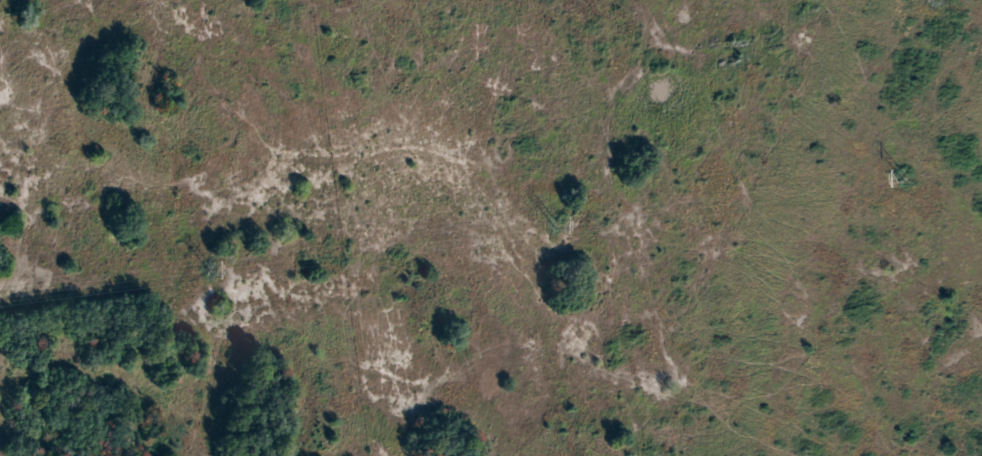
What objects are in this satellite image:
power tower: (905, 179)
power tower: (555, 224)
power tower: (210, 269)

